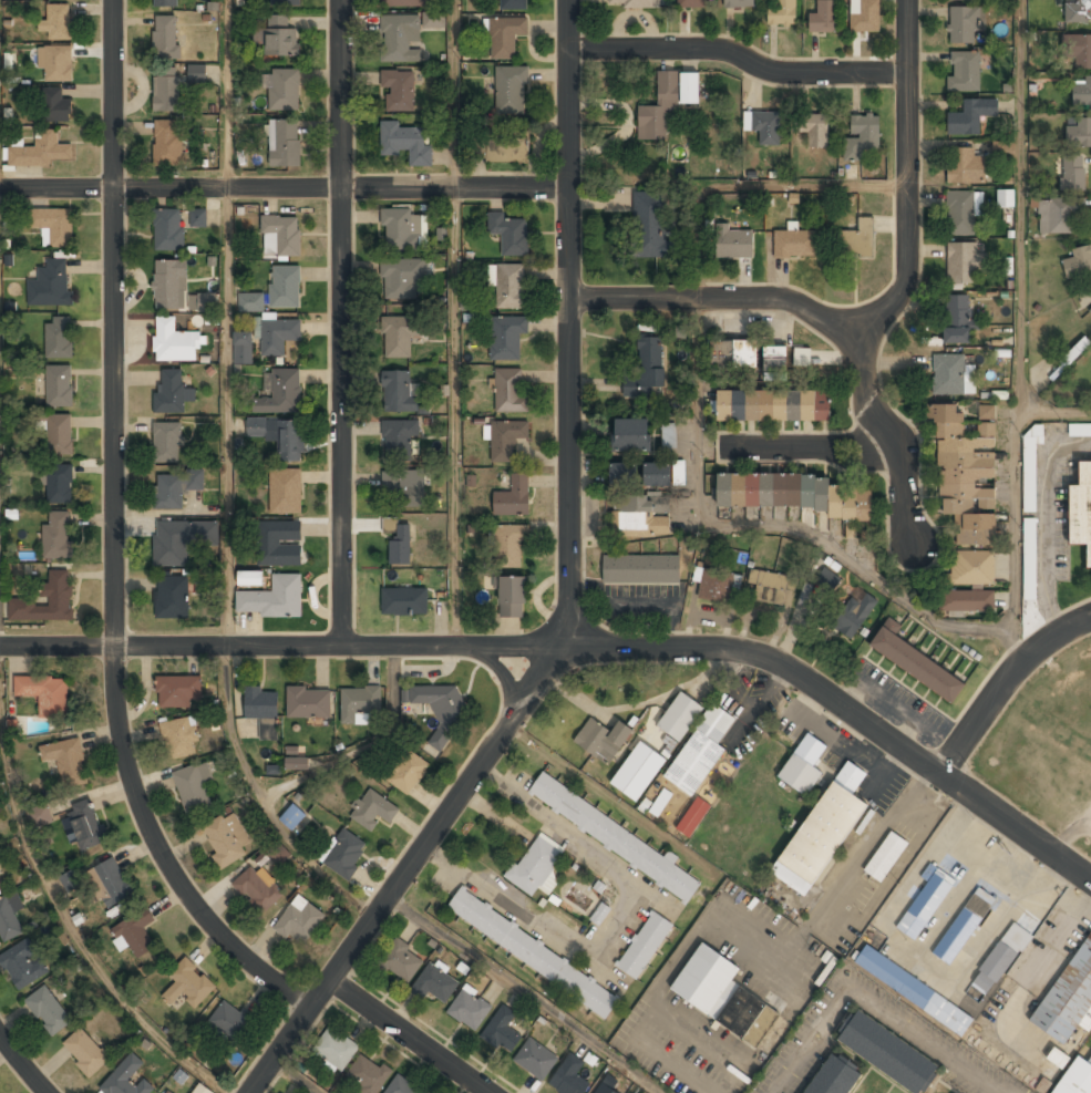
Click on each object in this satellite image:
building: (165, 2)
building: (406, 2)
building: (287, 3)
building: (634, 3)
building: (691, 3)
building: (739, 3)
building: (513, 4)
building: (1078, 10)
building: (782, 13)
building: (866, 16)
building: (824, 17)
building: (58, 21)
building: (966, 24)
building: (405, 34)
building: (166, 35)
building: (505, 35)
building: (280, 37)
building: (1081, 51)
road: (740, 59)
building: (54, 62)
building: (965, 72)
building: (197, 73)
building: (284, 89)
building: (399, 90)
building: (511, 90)
building: (166, 91)
building: (1082, 92)
building: (667, 103)
building: (54, 106)
building: (970, 116)
building: (765, 126)
building: (815, 130)
building: (1079, 134)
building: (863, 136)
building: (167, 141)
building: (284, 142)
building: (406, 142)
building: (483, 142)
building: (506, 149)
building: (1003, 149)
building: (40, 151)
building: (965, 165)
building: (1072, 173)
road: (740, 185)
road: (282, 188)
building: (1005, 197)
building: (963, 212)
building: (1058, 214)
building: (198, 217)
building: (650, 224)
building: (52, 225)
building: (400, 228)
building: (168, 229)
building: (508, 231)
building: (284, 233)
building: (858, 238)
building: (734, 240)
building: (796, 244)
building: (1078, 260)
building: (964, 261)
building: (402, 279)
building: (50, 282)
building: (169, 282)
building: (507, 283)
building: (285, 286)
building: (203, 301)
building: (250, 301)
building: (1090, 310)
road: (882, 318)
building: (957, 319)
road: (225, 323)
road: (341, 323)
road: (454, 323)
road: (1020, 332)
building: (278, 334)
building: (59, 336)
building: (400, 336)
building: (506, 336)
building: (174, 341)
building: (243, 348)
building: (1075, 350)
building: (747, 357)
building: (802, 357)
building: (647, 368)
building: (950, 374)
building: (59, 384)
building: (171, 390)
building: (508, 391)
building: (281, 392)
building: (400, 393)
building: (773, 405)
road: (1056, 411)
building: (256, 426)
building: (1079, 430)
building: (59, 433)
building: (668, 434)
building: (631, 435)
building: (399, 437)
building: (506, 437)
road: (896, 437)
building: (289, 440)
building: (166, 442)
road: (797, 448)
building: (1031, 470)
building: (663, 473)
building: (622, 474)
building: (967, 474)
building: (58, 482)
building: (404, 486)
building: (174, 488)
building: (285, 491)
building: (799, 494)
building: (514, 497)
building: (1081, 508)
building: (639, 512)
building: (389, 524)
road: (764, 525)
building: (56, 536)
road: (113, 538)
building: (181, 539)
building: (279, 543)
building: (400, 544)
building: (510, 546)
building: (1029, 554)
building: (971, 567)
building: (641, 568)
building: (249, 578)
building: (826, 578)
building: (714, 584)
building: (771, 586)
building: (512, 596)
road: (568, 596)
building: (172, 597)
building: (272, 597)
building: (404, 599)
building: (47, 600)
building: (967, 600)
building: (854, 612)
road: (581, 648)
building: (915, 660)
road: (1000, 681)
building: (177, 690)
building: (44, 692)
building: (308, 701)
building: (359, 701)
building: (442, 709)
building: (263, 710)
building: (680, 716)
building: (178, 736)
building: (603, 739)
road: (362, 744)
building: (700, 750)
building: (68, 760)
building: (297, 763)
building: (408, 771)
building: (638, 771)
building: (800, 774)
building: (194, 787)
road: (264, 801)
building: (660, 802)
building: (372, 808)
building: (40, 815)
building: (292, 816)
building: (692, 816)
building: (86, 823)
building: (823, 831)
building: (611, 835)
building: (226, 838)
building: (344, 853)
building: (886, 856)
building: (534, 865)
building: (70, 880)
building: (109, 883)
building: (257, 889)
building: (926, 903)
building: (600, 912)
building: (8, 920)
building: (300, 920)
road: (72, 925)
building: (964, 926)
building: (135, 931)
building: (645, 945)
building: (533, 951)
building: (1000, 959)
building: (401, 960)
building: (21, 965)
building: (188, 983)
building: (436, 983)
building: (914, 990)
road: (527, 992)
building: (722, 994)
building: (1069, 997)
road: (872, 1001)
building: (49, 1010)
building: (470, 1010)
building: (229, 1019)
building: (503, 1031)
road: (408, 1035)
building: (337, 1049)
building: (85, 1051)
building: (887, 1052)
building: (536, 1059)
road: (21, 1065)
road: (299, 1074)
building: (368, 1074)
building: (834, 1075)
building: (569, 1076)
building: (127, 1077)
building: (1075, 1077)
building: (402, 1086)
building: (202, 1089)
building: (605, 1089)
building: (166, 1092)

